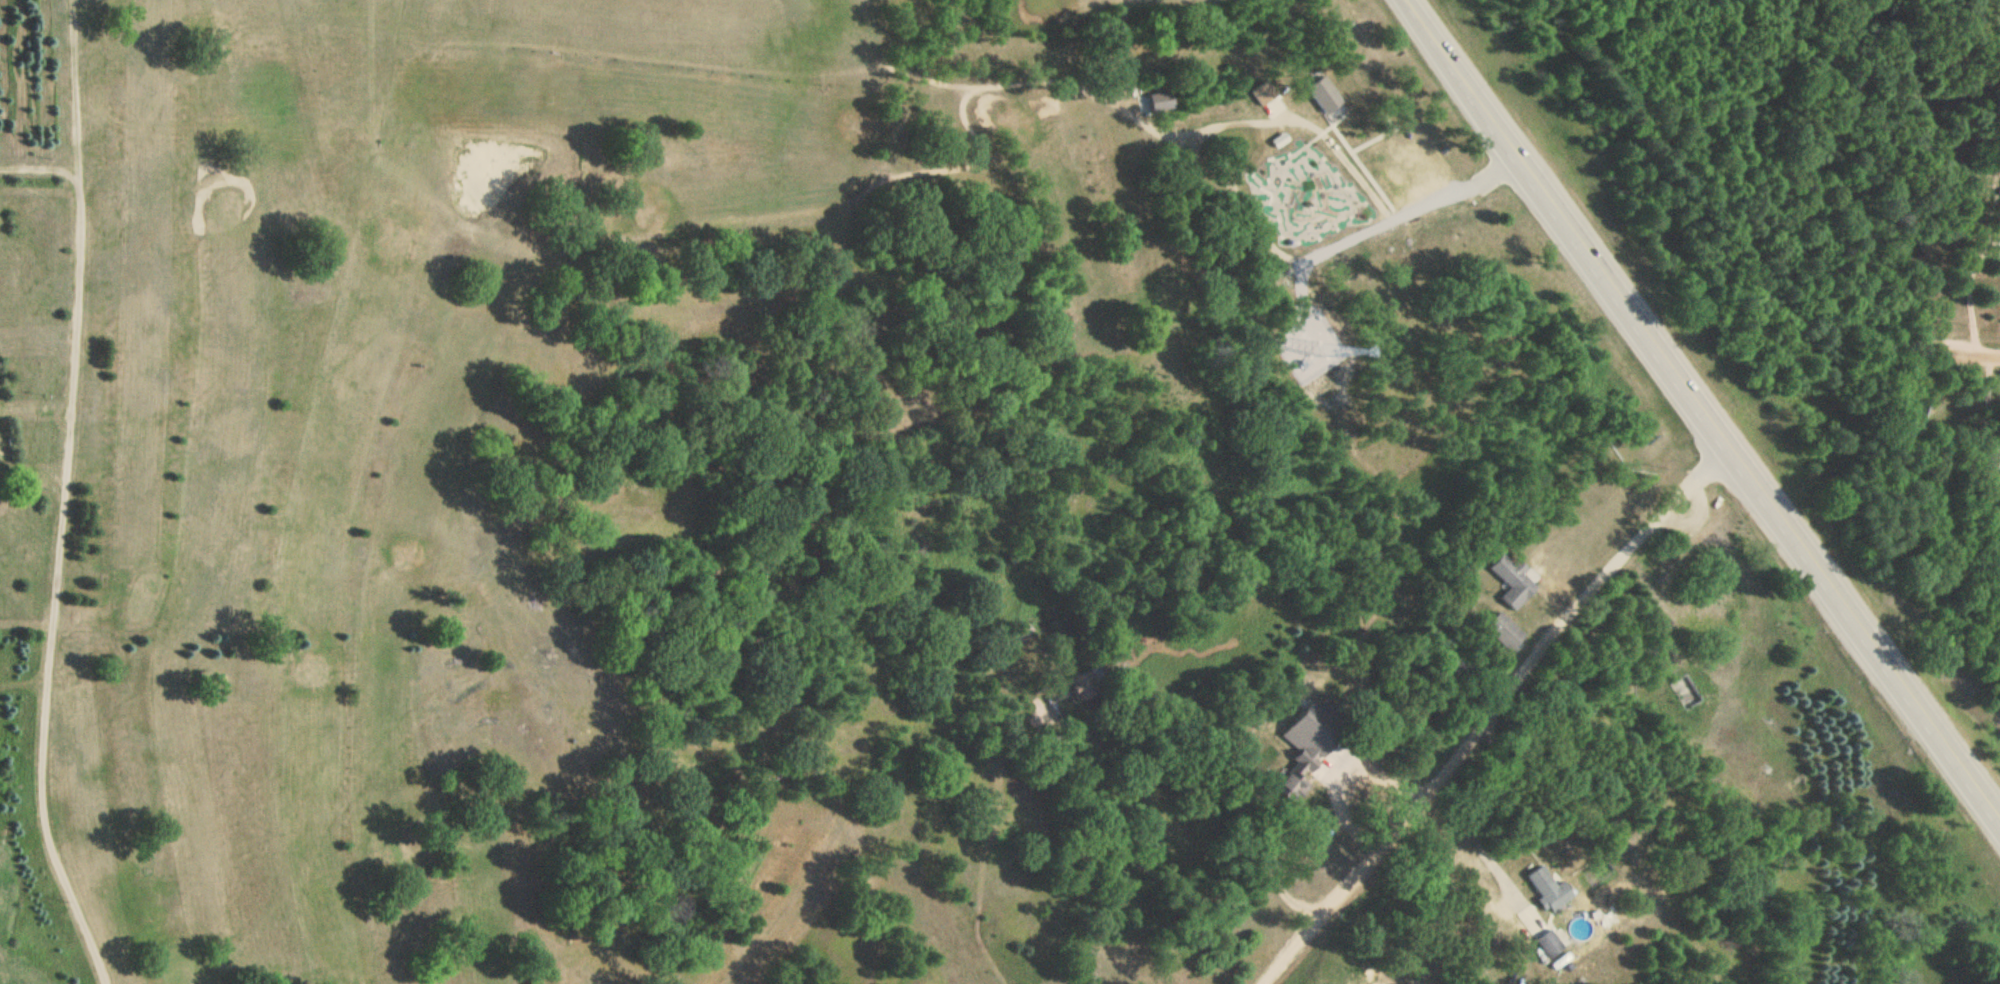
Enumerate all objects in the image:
building: (1327, 97)
building: (1162, 100)
road: (39, 172)
road: (1984, 351)
road: (1698, 411)
park: (392, 424)
building: (1998, 462)
road: (62, 497)
building: (1514, 581)
building: (1507, 633)
building: (1680, 692)
road: (1491, 715)
building: (1311, 765)
building: (1547, 888)

